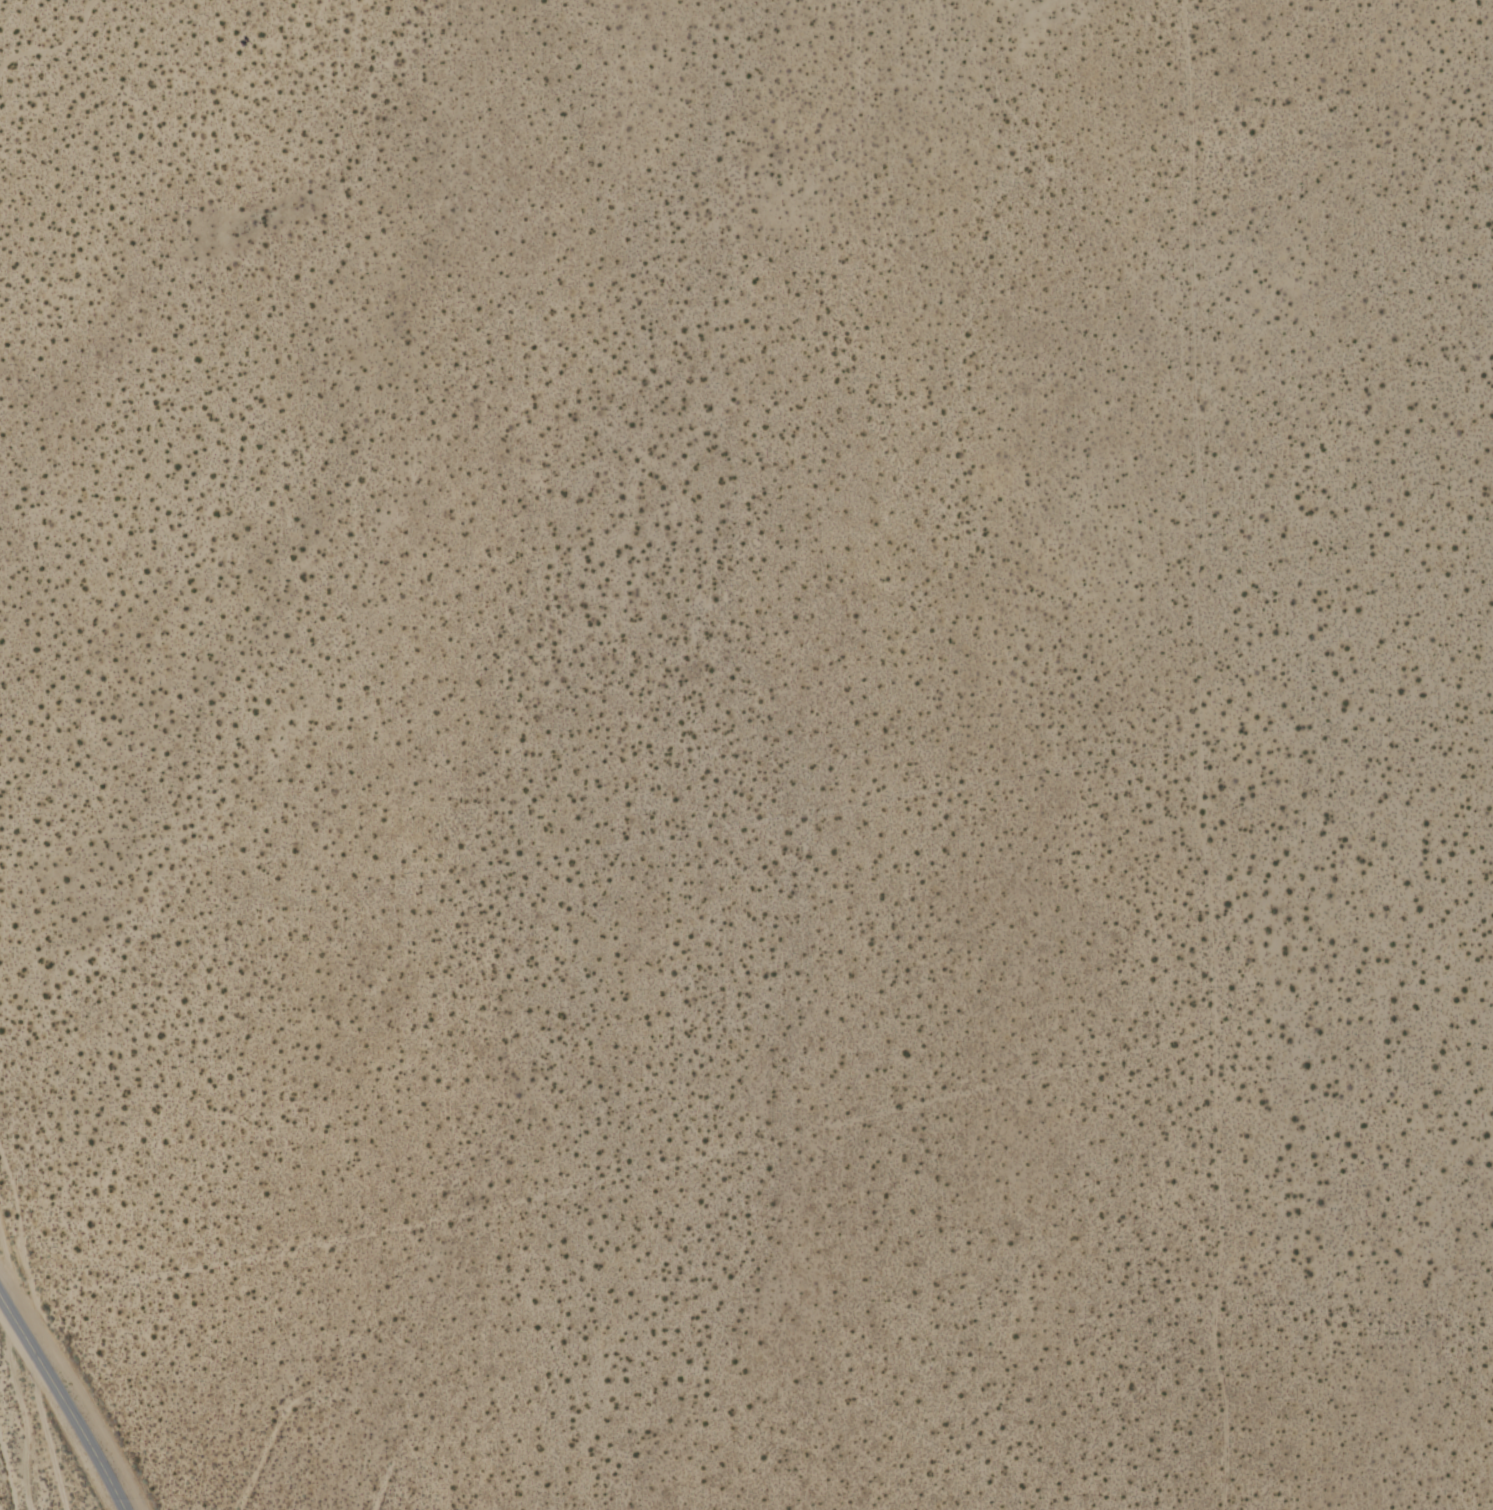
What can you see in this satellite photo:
road: (65, 1399)

